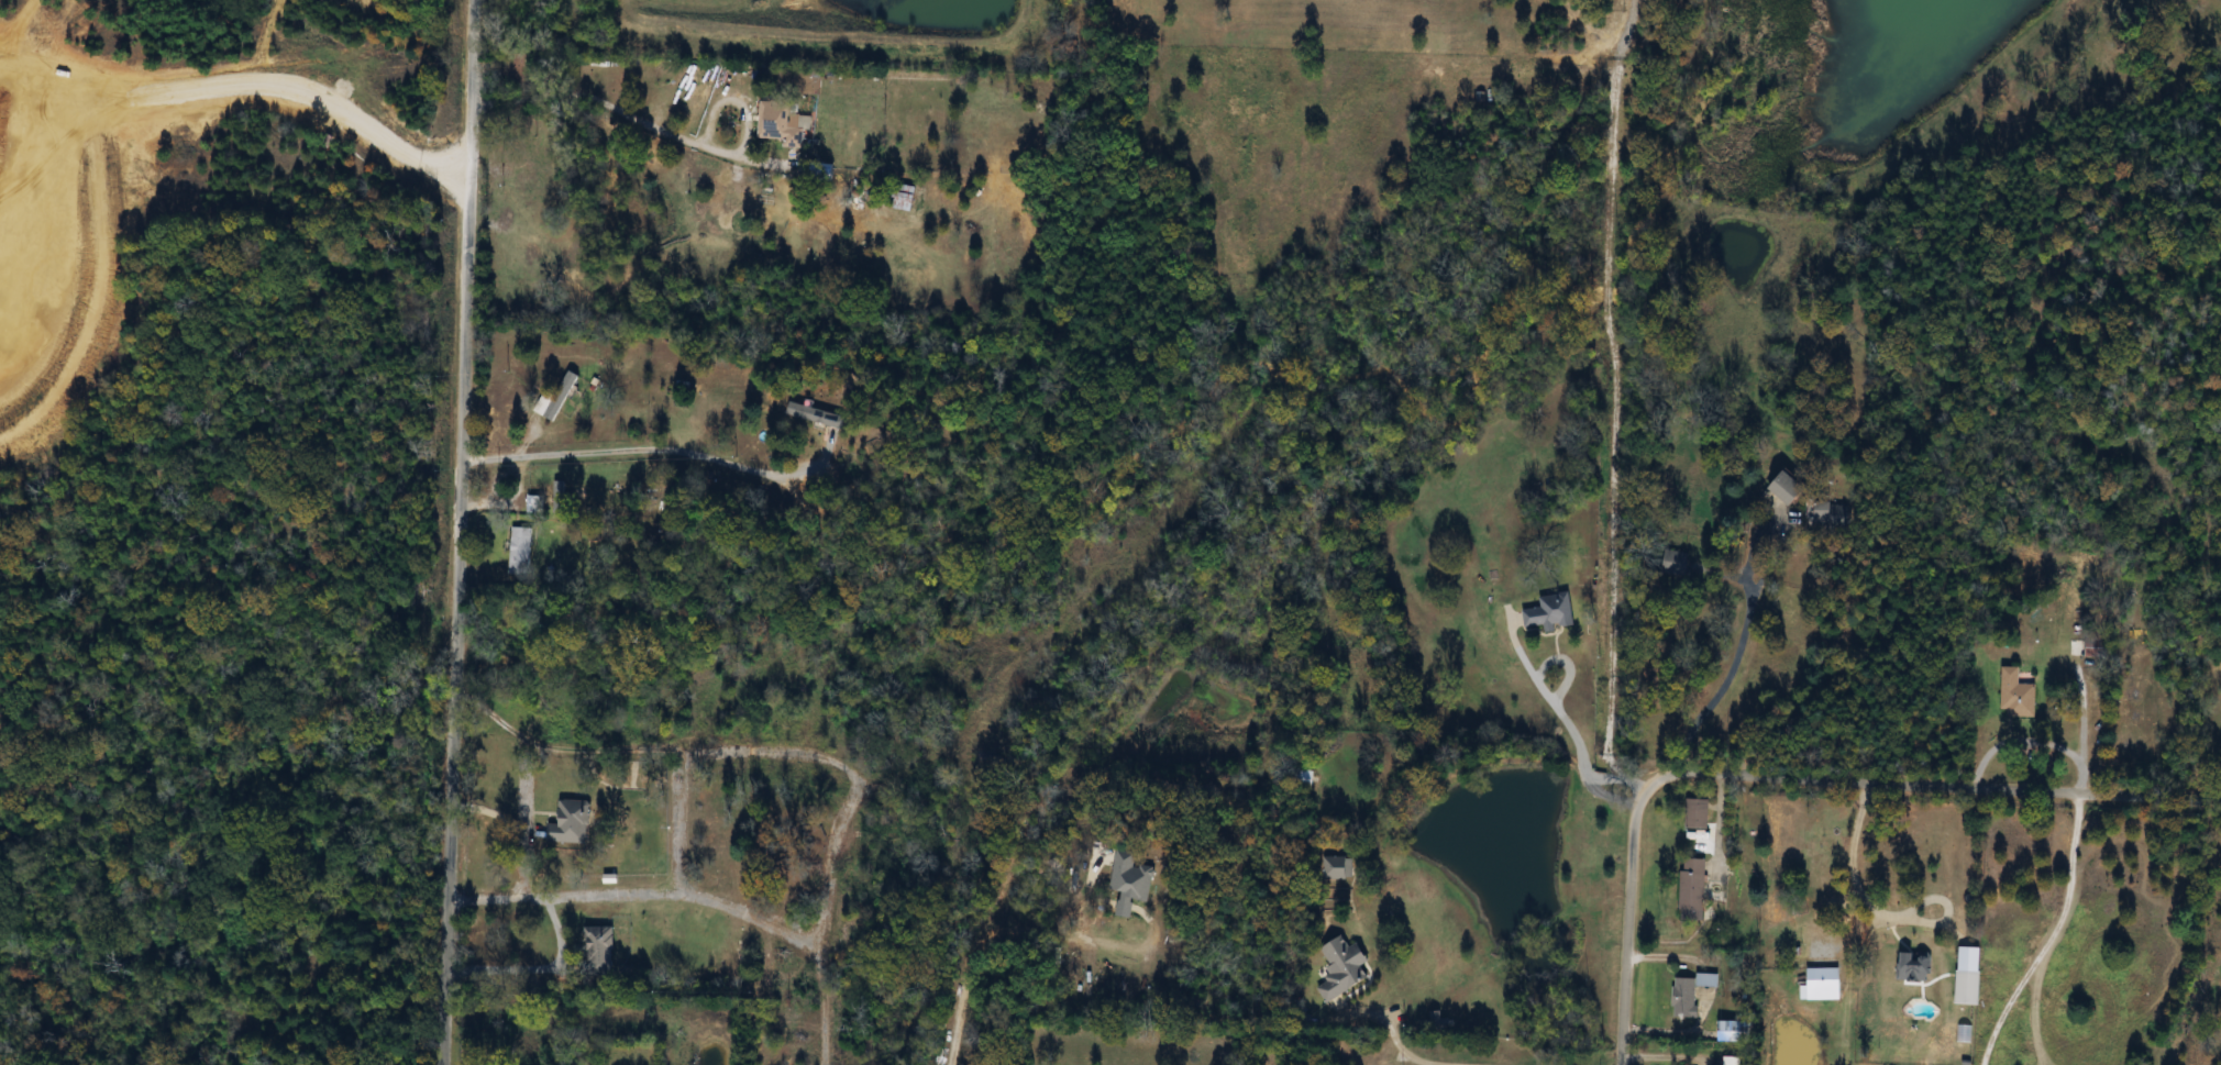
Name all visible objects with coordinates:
building: (516, 67)
building: (655, 74)
building: (784, 122)
road: (656, 129)
building: (529, 259)
building: (557, 398)
road: (656, 444)
building: (1789, 488)
building: (1828, 515)
road: (467, 532)
building: (521, 550)
building: (1551, 611)
building: (2096, 645)
road: (1730, 664)
building: (2018, 694)
road: (1559, 708)
road: (2030, 734)
road: (524, 773)
road: (1792, 775)
building: (1697, 813)
building: (572, 823)
road: (526, 856)
building: (1337, 868)
building: (1692, 889)
road: (639, 895)
road: (1871, 909)
road: (818, 922)
building: (600, 951)
building: (1916, 966)
road: (537, 968)
building: (1344, 968)
road: (966, 973)
building: (1825, 979)
building: (1969, 987)
building: (1686, 997)
building: (1437, 1022)
building: (1735, 1031)
building: (520, 1044)
road: (1445, 1057)
building: (1728, 1061)

